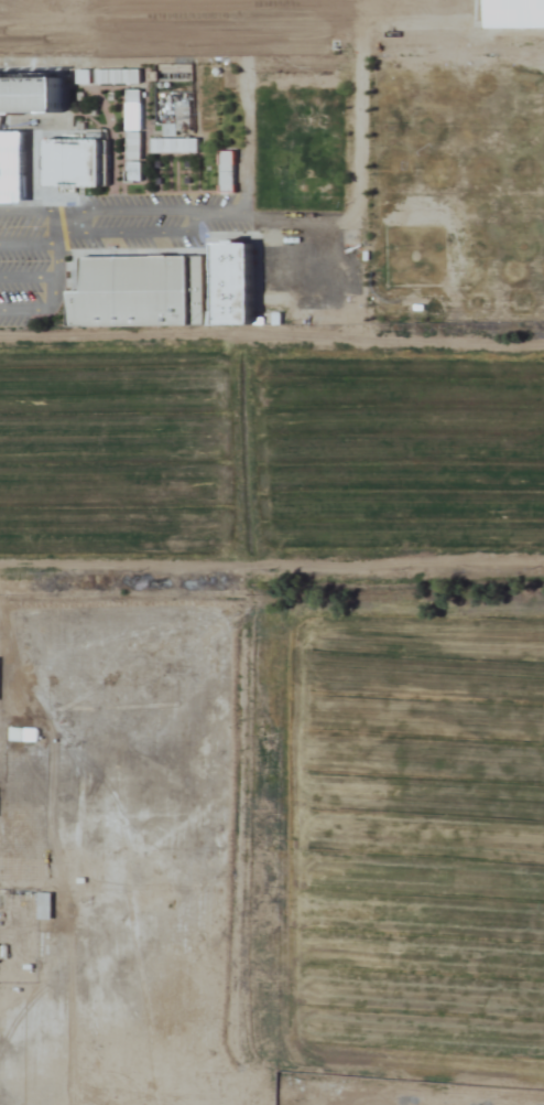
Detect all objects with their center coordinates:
crop: (382, 128)

